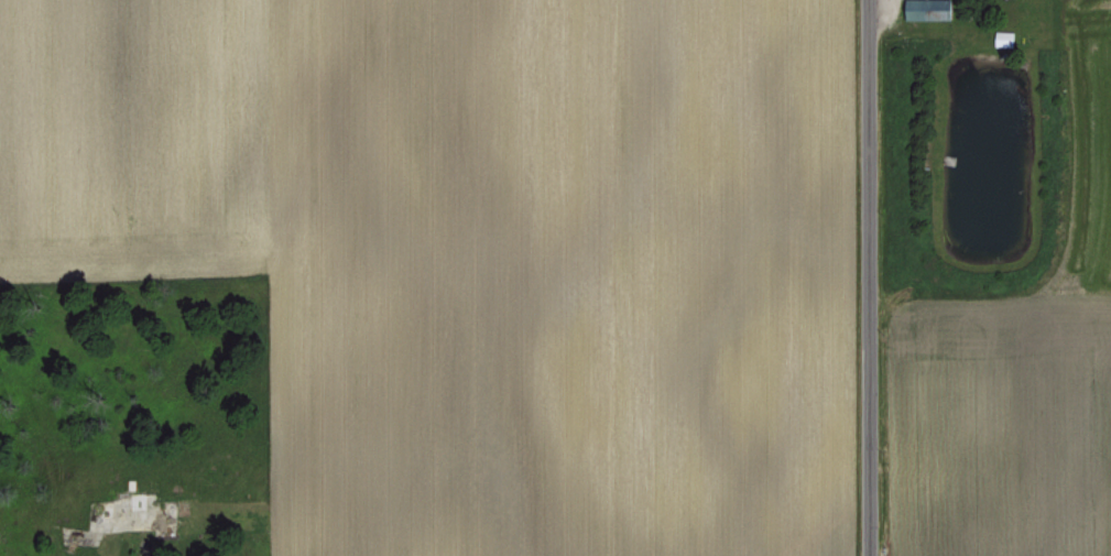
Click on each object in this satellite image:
building: (932, 9)
road: (864, 277)

